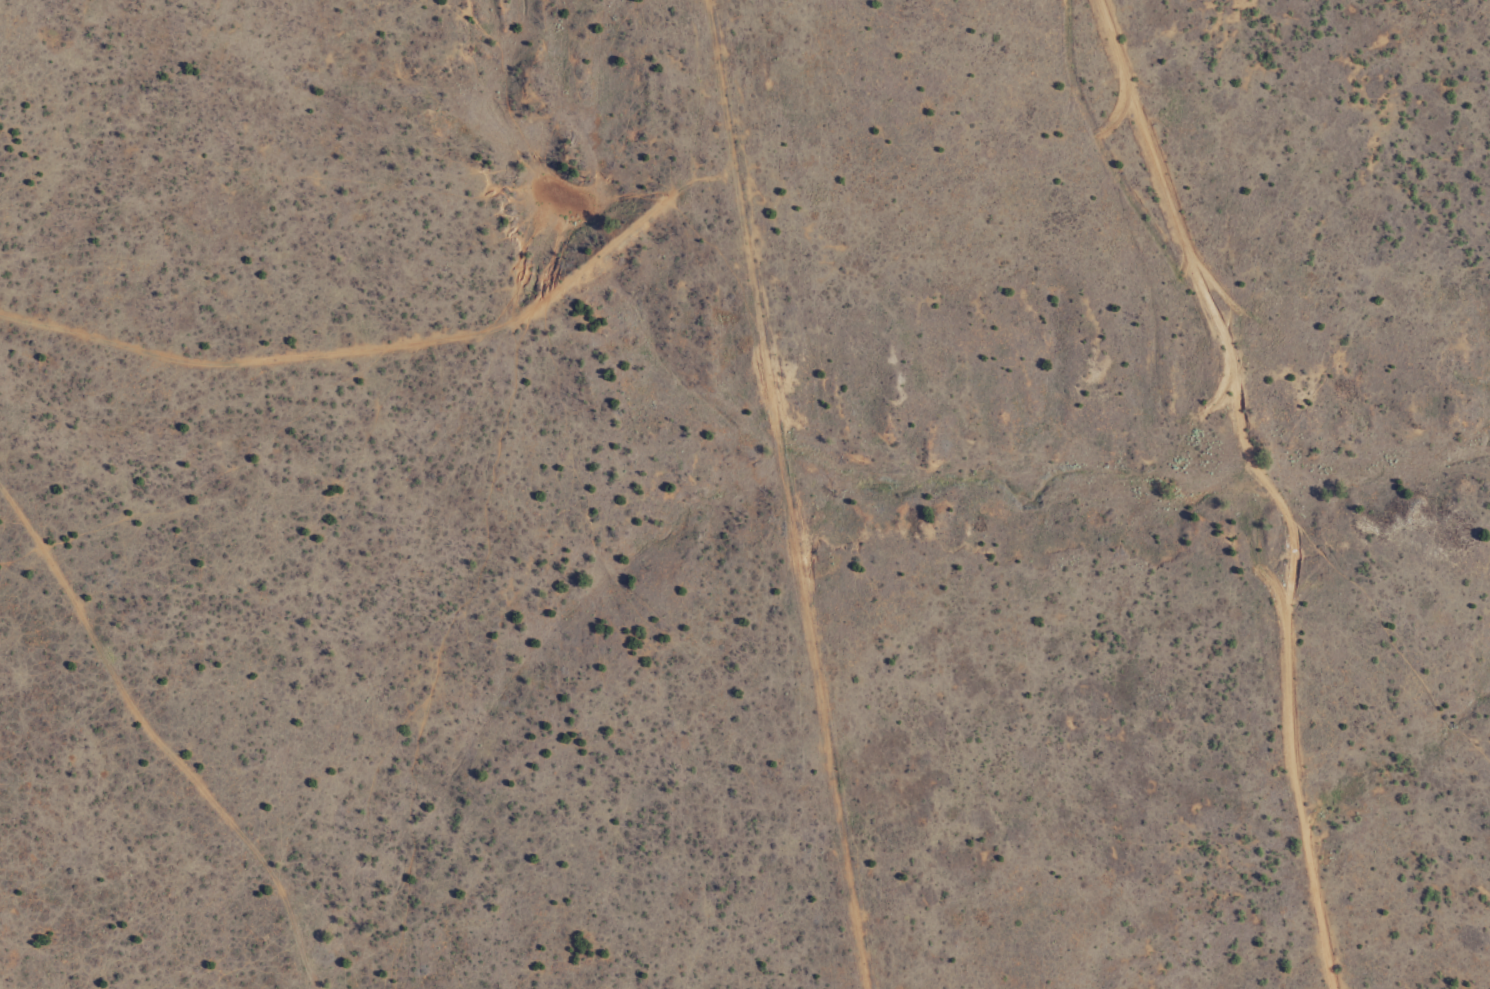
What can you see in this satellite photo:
road: (40, 40)
road: (450, 326)
road: (163, 756)

